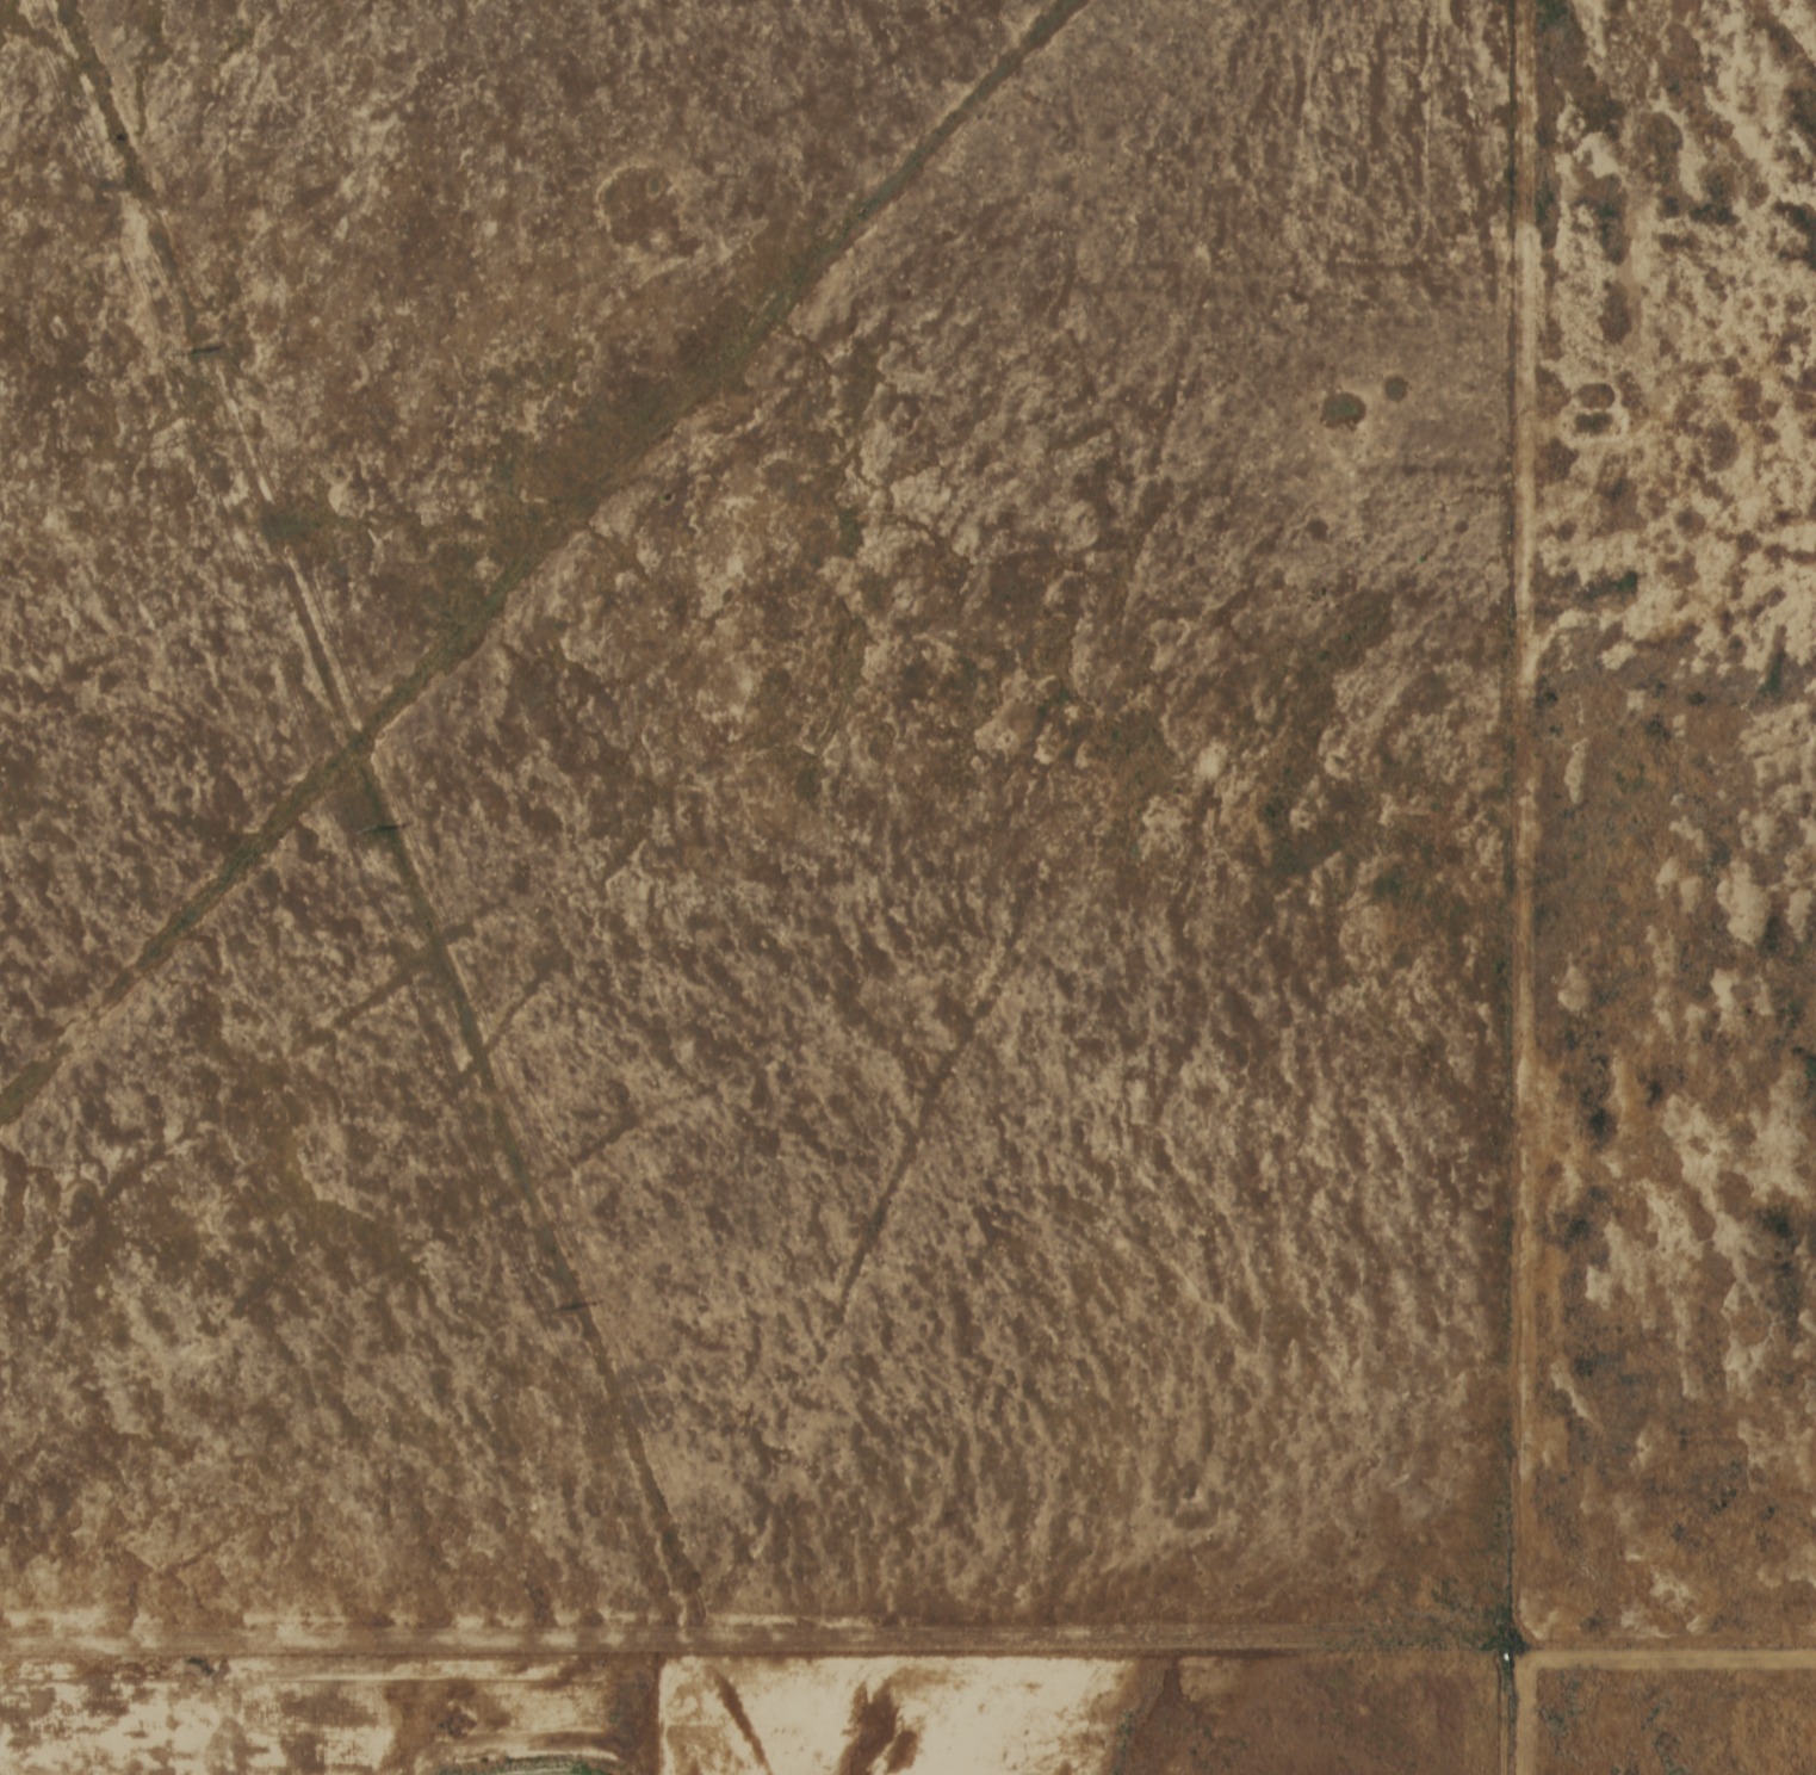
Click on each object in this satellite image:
power tower: (185, 350)
power tower: (377, 827)
power tower: (566, 1303)

